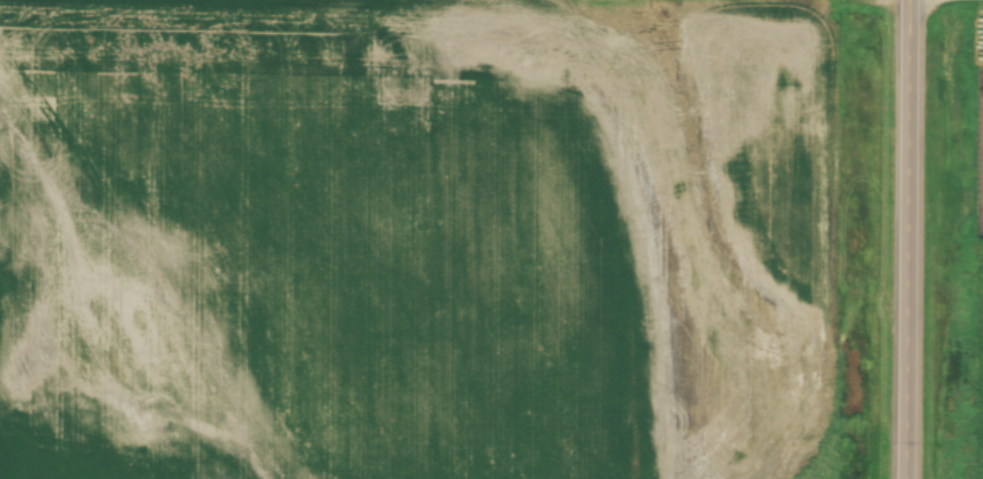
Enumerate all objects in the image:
road: (901, 239)

